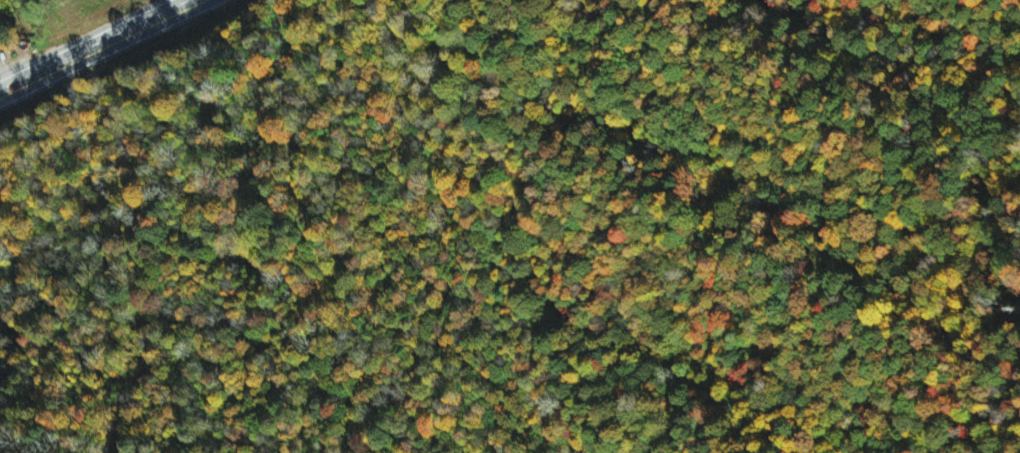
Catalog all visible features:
road: (99, 46)

